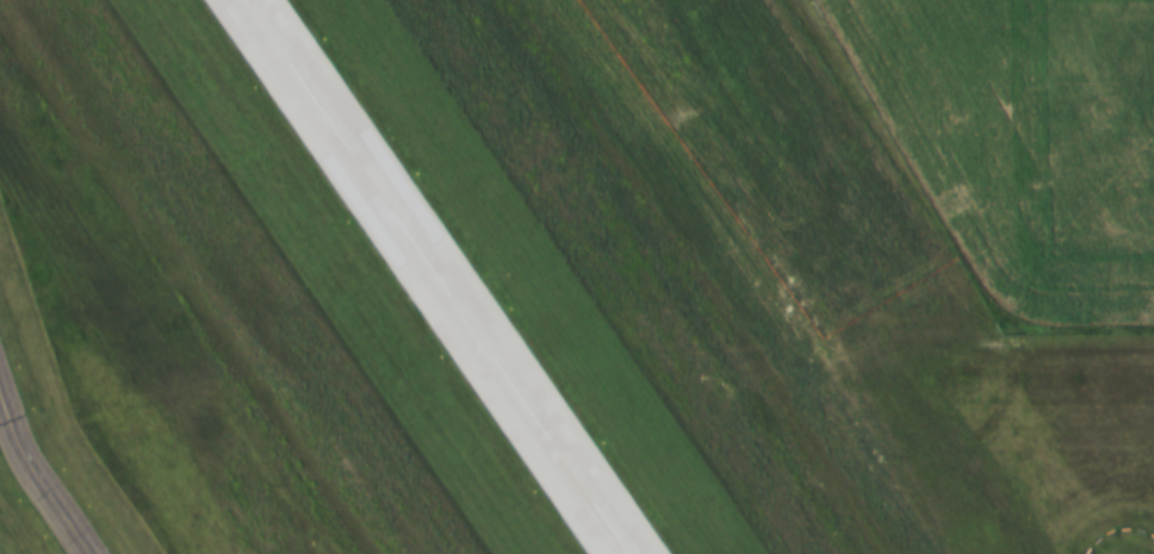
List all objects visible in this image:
airport runway: (439, 276)
airport taxiway: (35, 474)

